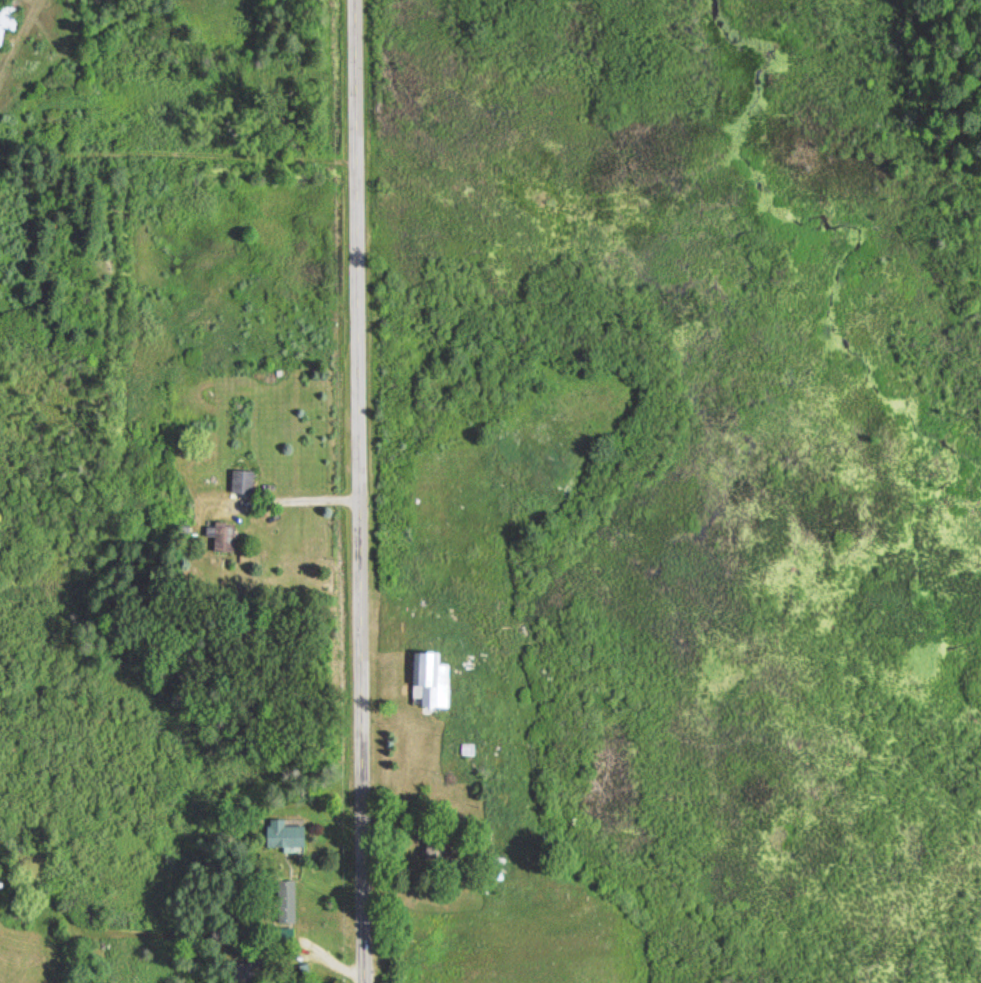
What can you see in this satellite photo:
building: (8, 19)
building: (244, 482)
road: (361, 491)
building: (226, 539)
building: (433, 679)
building: (288, 835)

